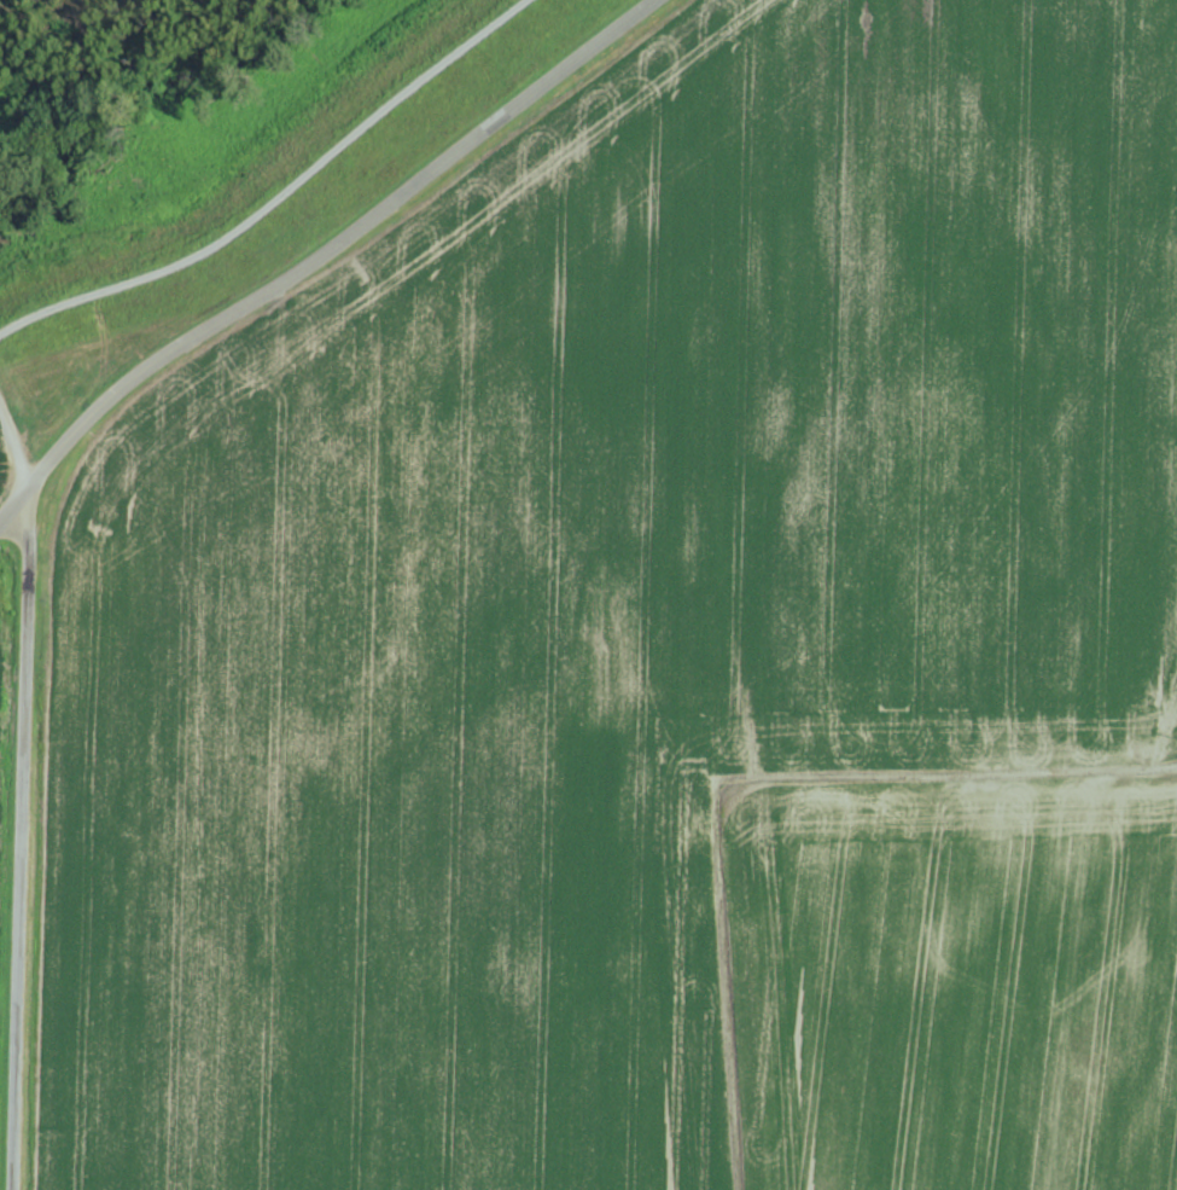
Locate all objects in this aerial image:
road: (398, 246)
road: (16, 501)
road: (74, 832)

